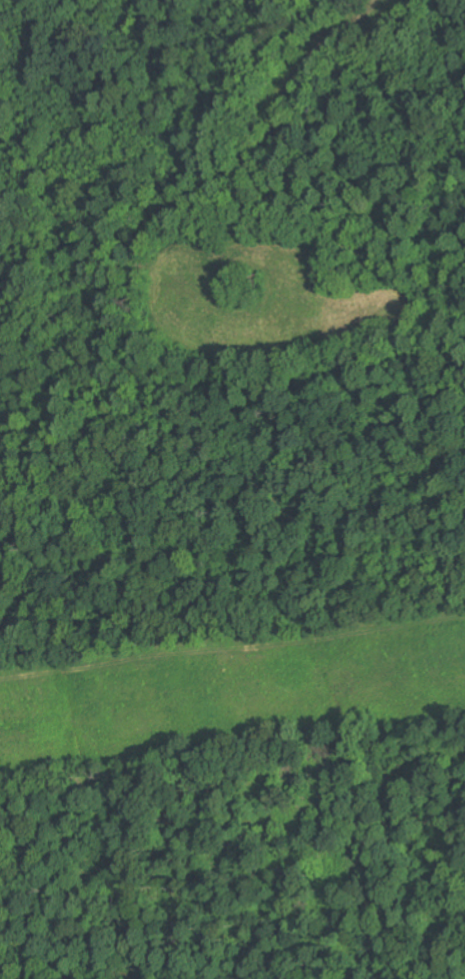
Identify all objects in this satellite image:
road: (184, 213)

